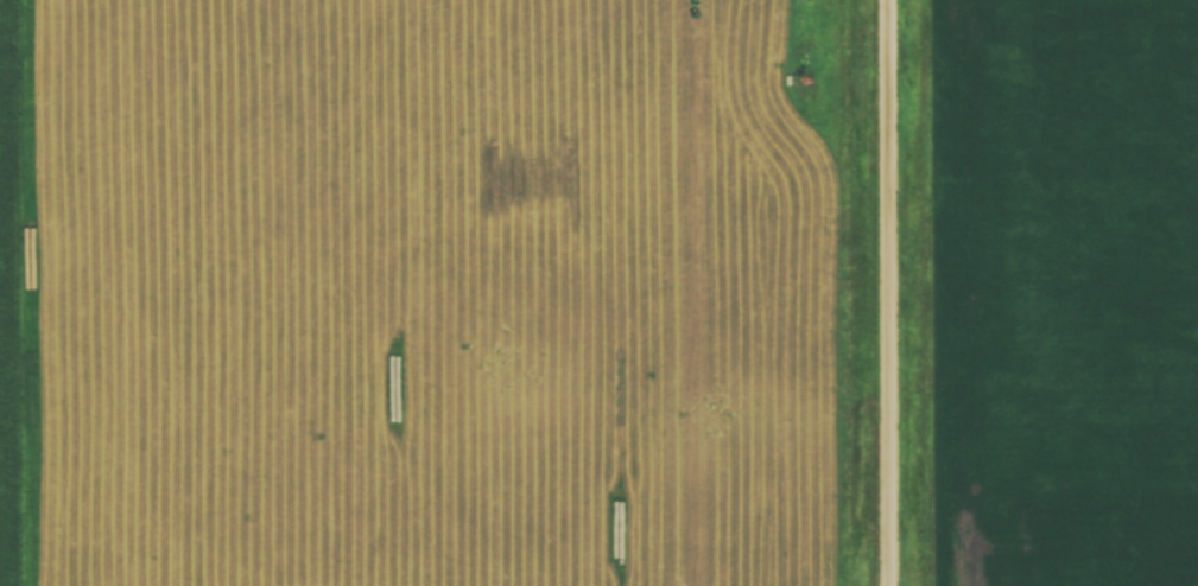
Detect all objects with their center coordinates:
road: (888, 293)

